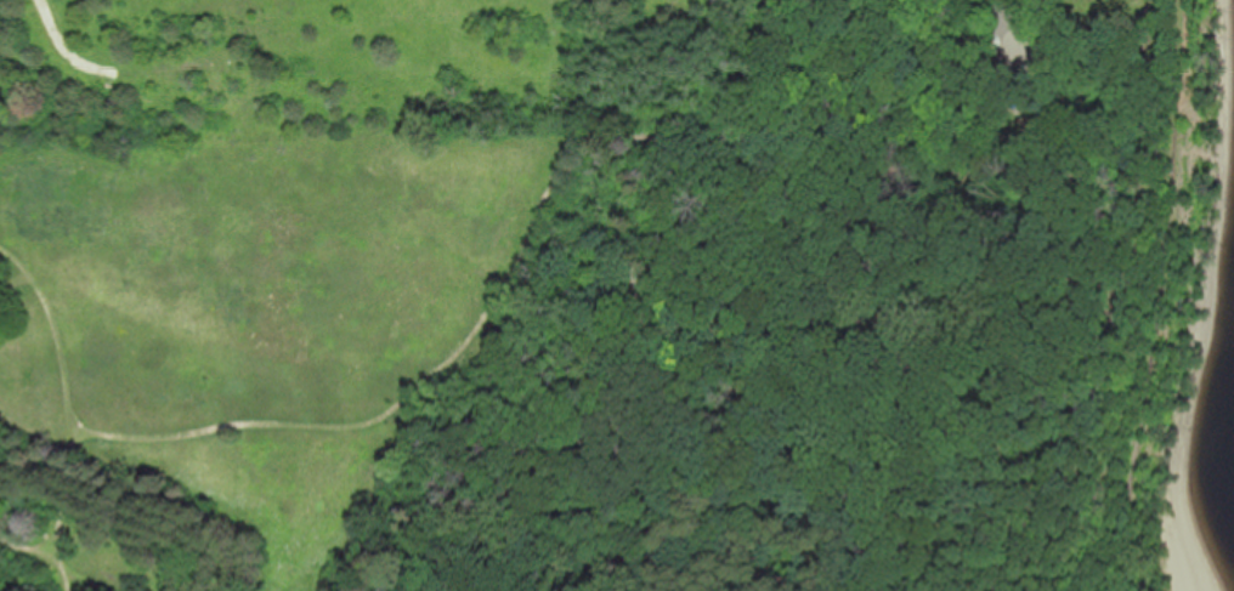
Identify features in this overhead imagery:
road: (1002, 5)
road: (545, 211)
park: (606, 359)
road: (60, 408)

